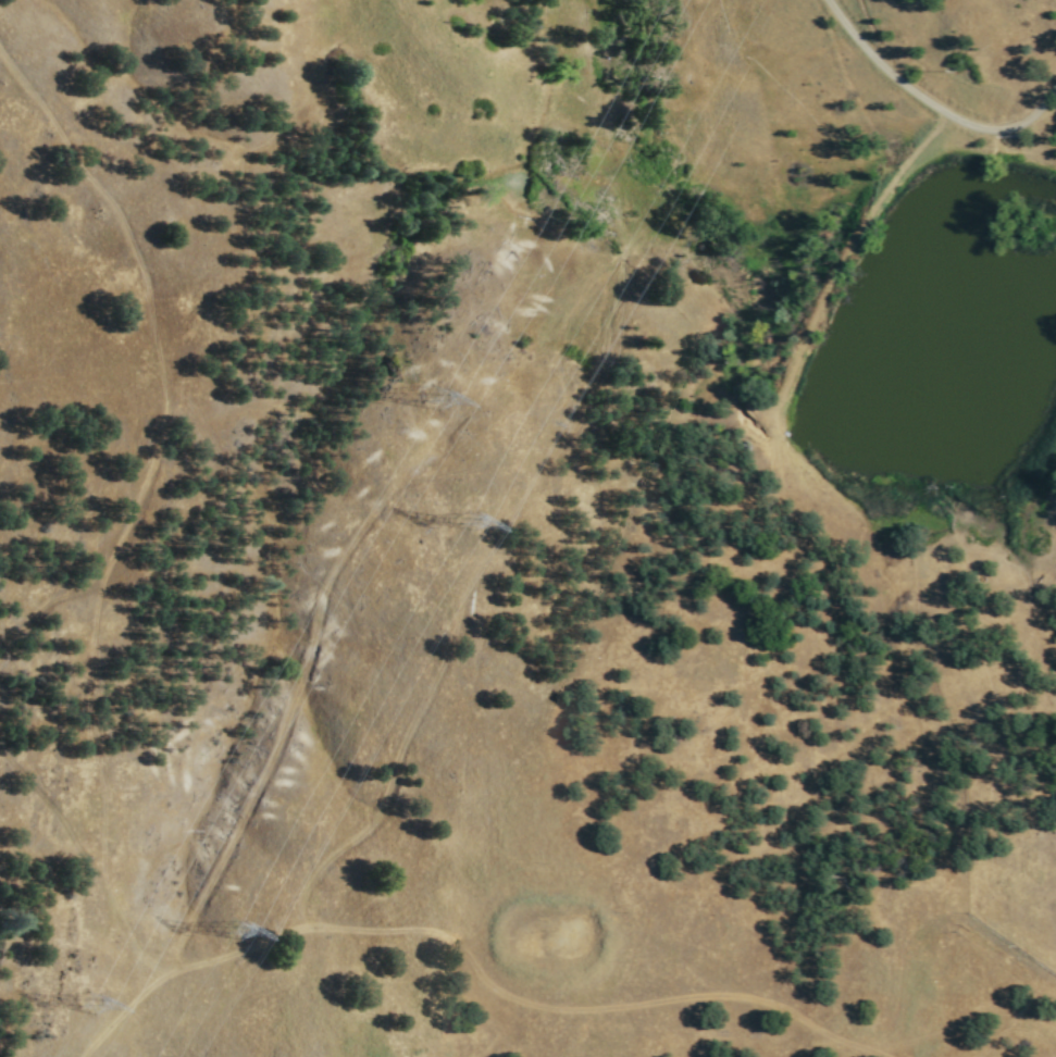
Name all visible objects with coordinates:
road: (931, 103)
road: (146, 290)
power tower: (435, 394)
power tower: (470, 518)
road: (47, 602)
road: (87, 859)
power tower: (236, 927)
road: (514, 994)
power tower: (86, 1003)

